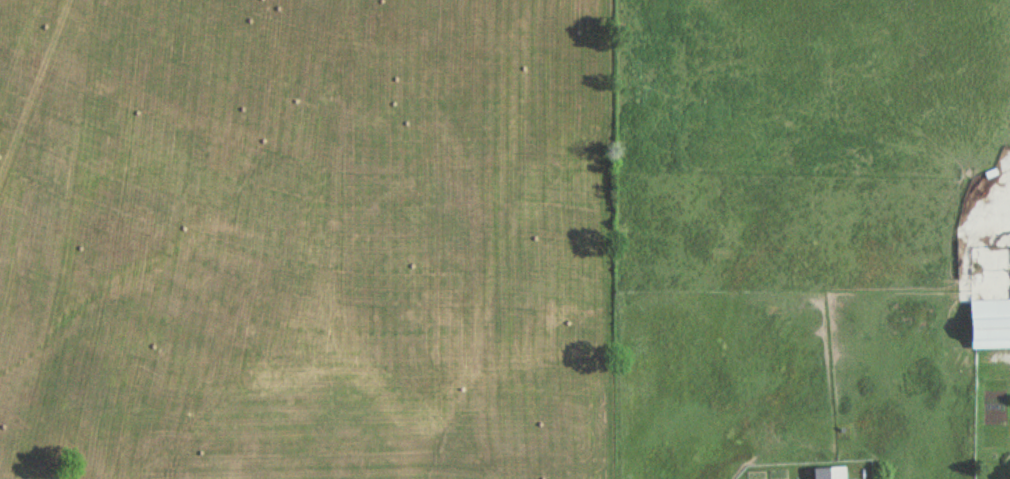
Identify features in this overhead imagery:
building: (987, 324)
building: (827, 473)
building: (852, 478)

